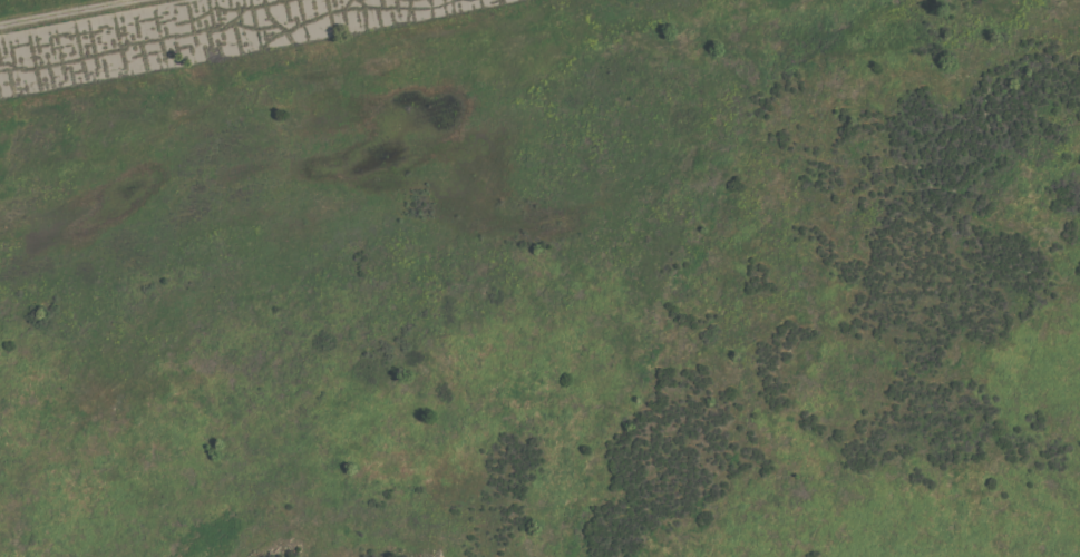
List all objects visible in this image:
road: (66, 12)

